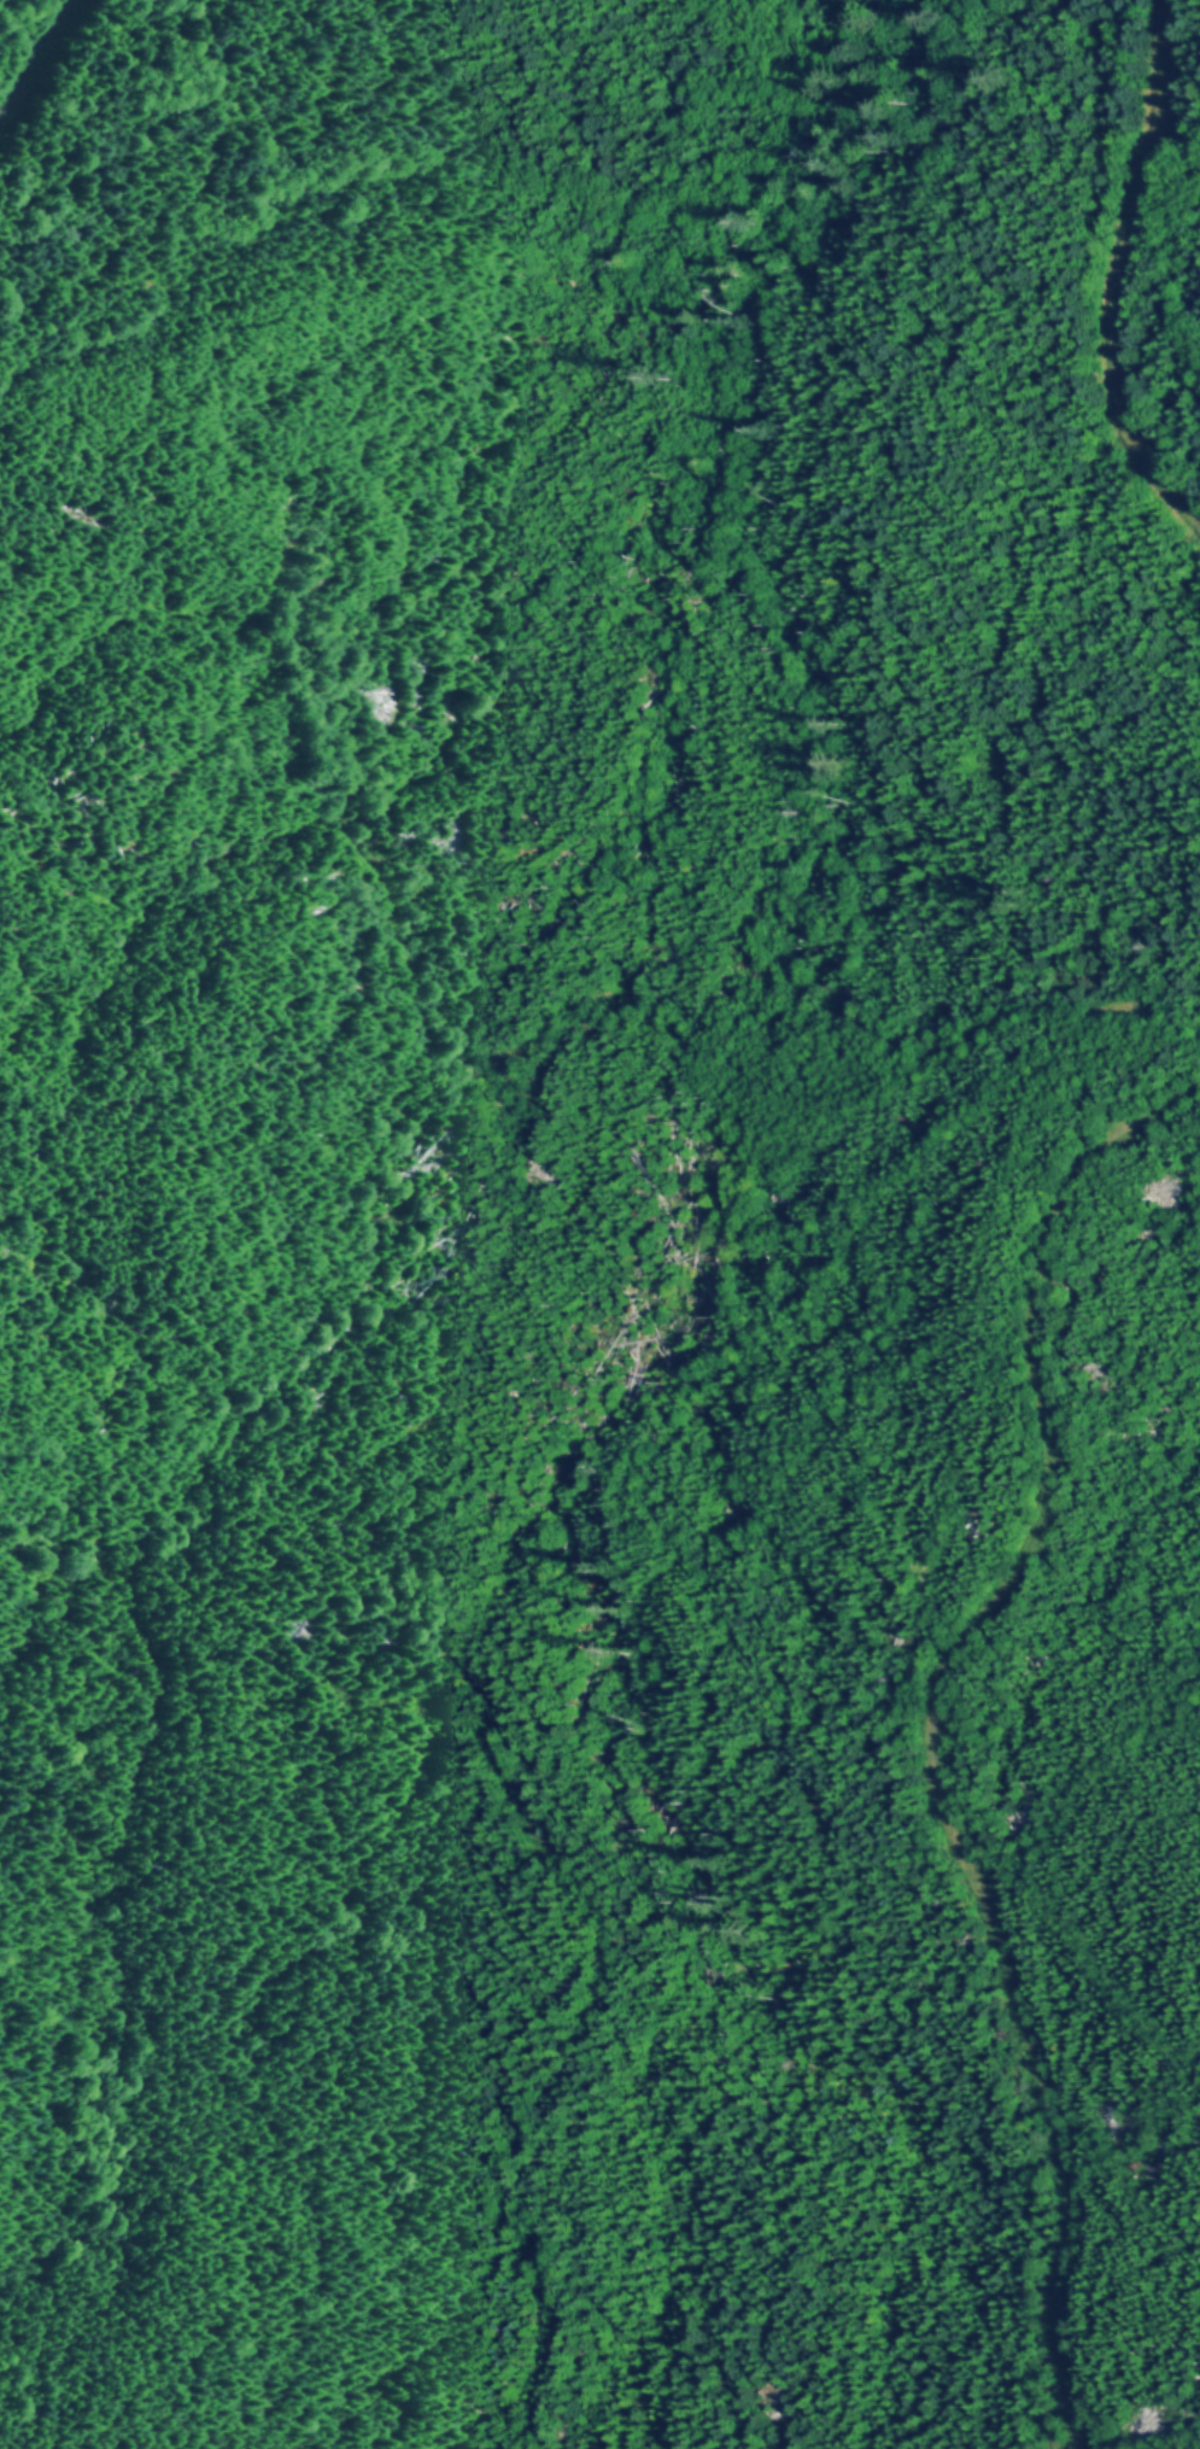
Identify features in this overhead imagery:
road: (89, 58)

